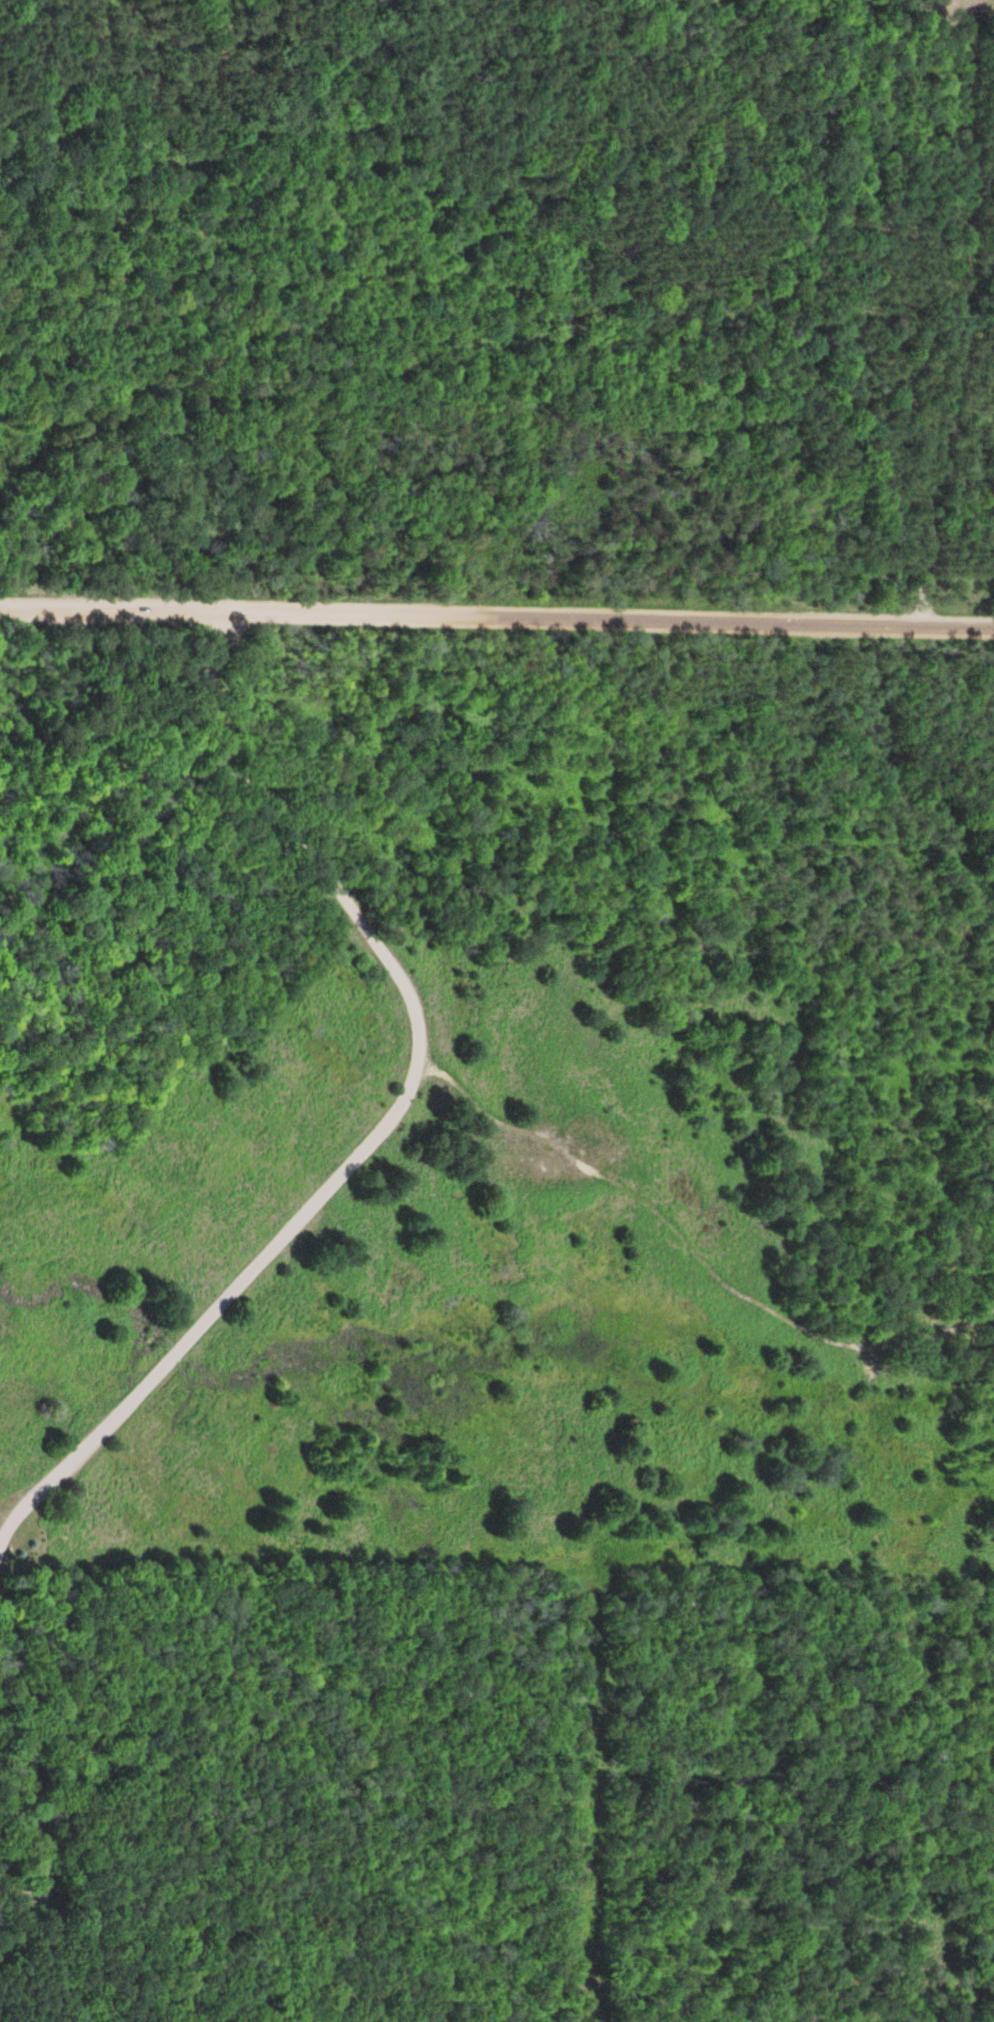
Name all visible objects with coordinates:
road: (497, 619)
road: (222, 1300)

